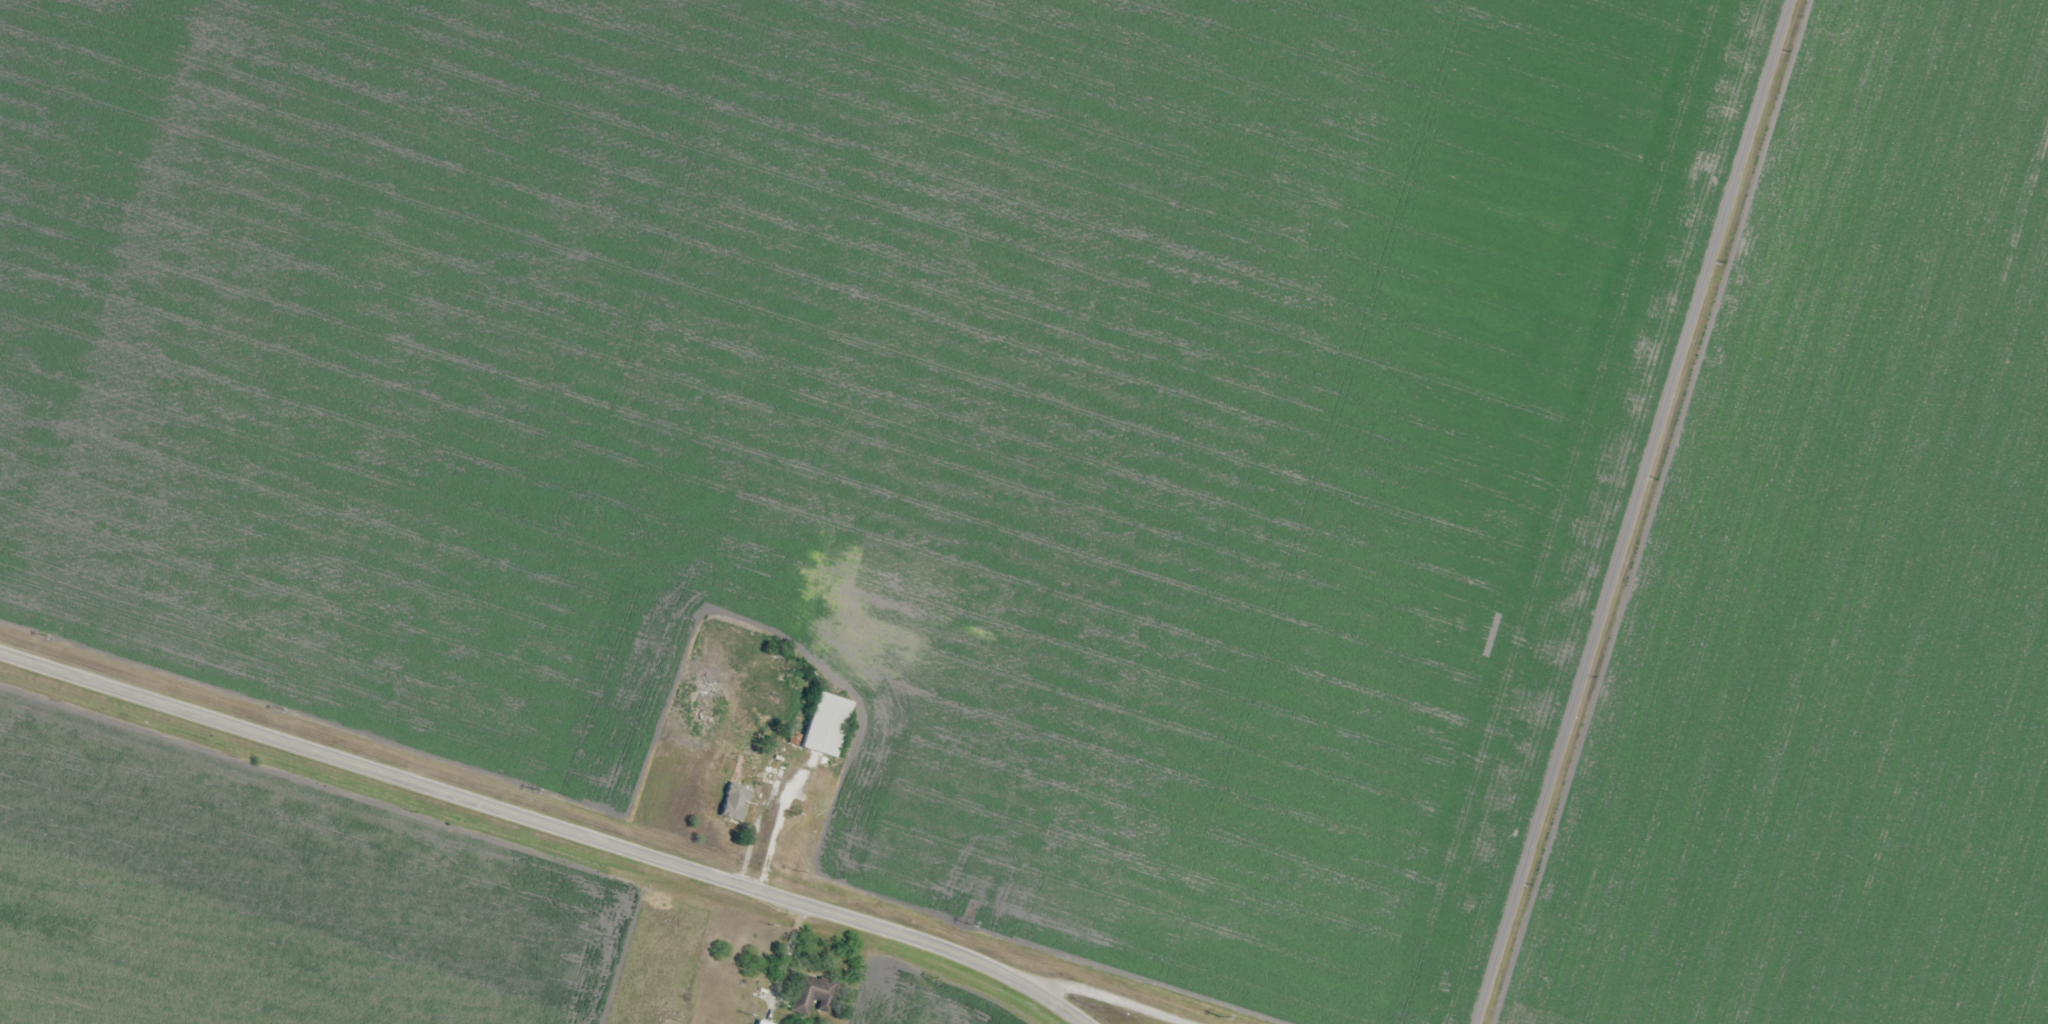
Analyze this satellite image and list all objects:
road: (1660, 512)
power tower: (43, 633)
power tower: (276, 706)
building: (825, 724)
power tower: (530, 787)
road: (580, 796)
power tower: (797, 868)
power tower: (966, 923)
road: (1185, 1001)
power tower: (1216, 1016)
building: (759, 1023)

